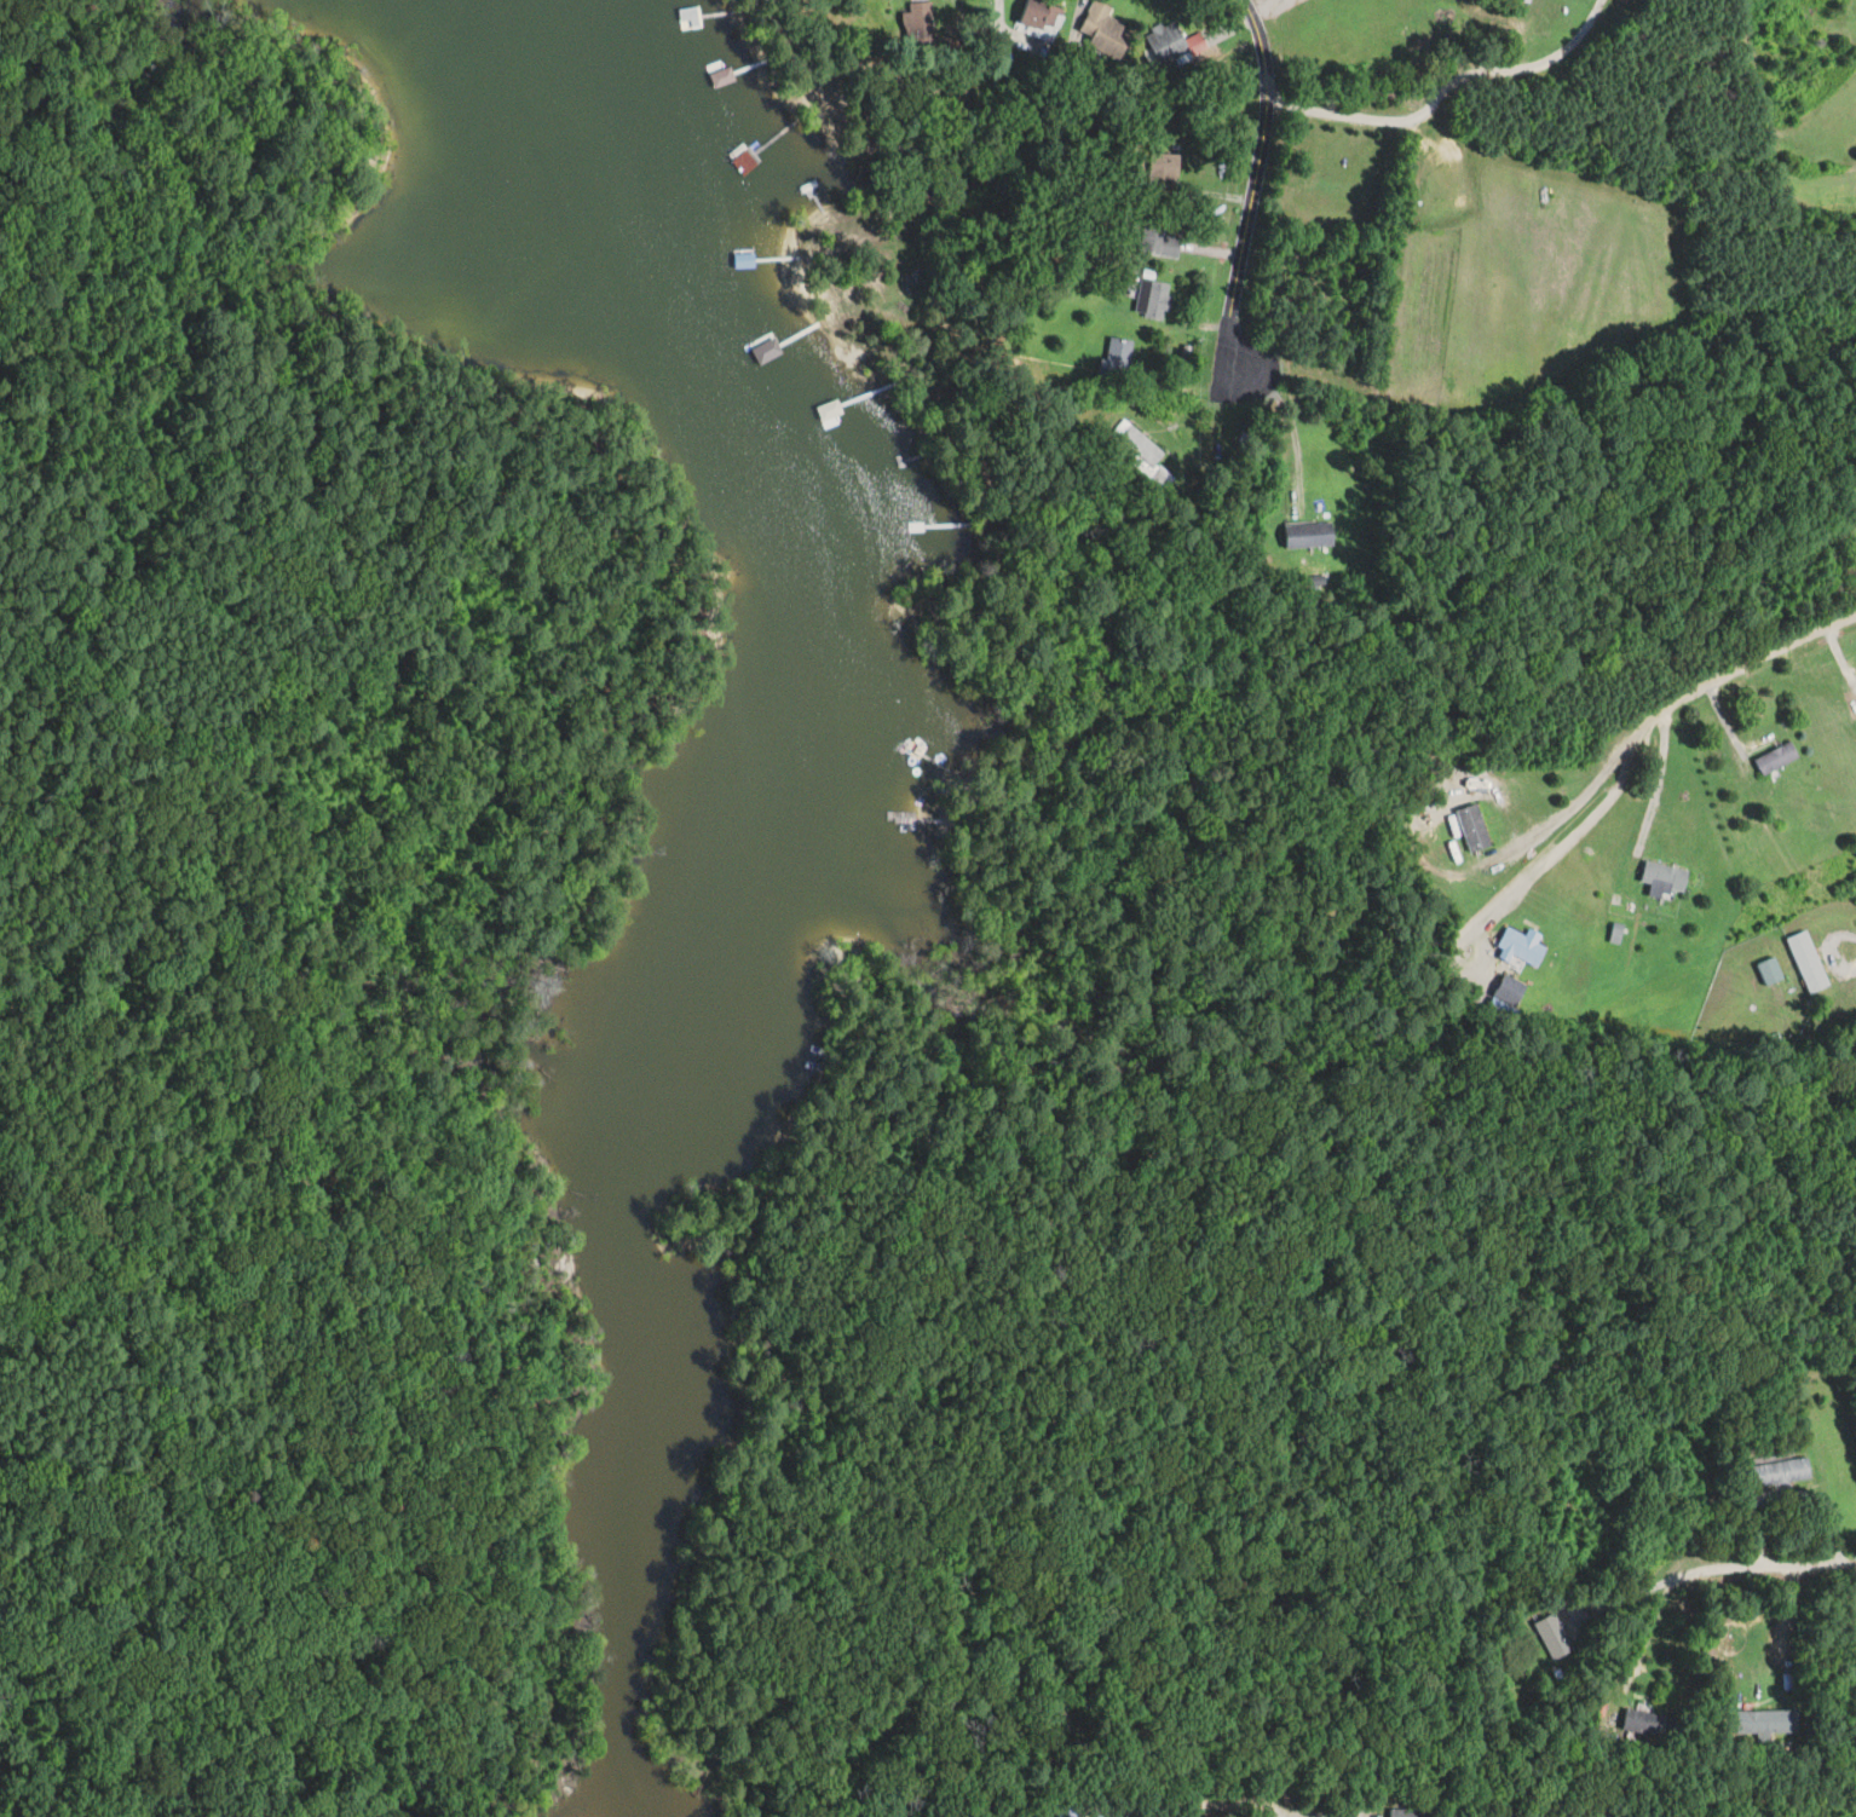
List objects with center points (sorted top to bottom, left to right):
building: (1042, 16)
building: (921, 23)
building: (1103, 33)
building: (1174, 44)
road: (1443, 91)
building: (711, 92)
road: (1252, 185)
building: (1160, 240)
building: (1154, 300)
building: (1117, 359)
park: (281, 365)
road: (1297, 413)
building: (1136, 446)
building: (1312, 535)
road: (1756, 658)
building: (1777, 757)
building: (1666, 876)
building: (1522, 946)
building: (1809, 962)
building: (1770, 971)
road: (1852, 977)
building: (1509, 988)
building: (1781, 1472)
road: (1765, 1564)
road: (1622, 1597)
building: (1554, 1637)
road: (1648, 1637)
building: (1769, 1723)
building: (1654, 1725)
road: (1214, 1795)
building: (1068, 1811)
building: (1411, 1812)
road: (1325, 1815)

